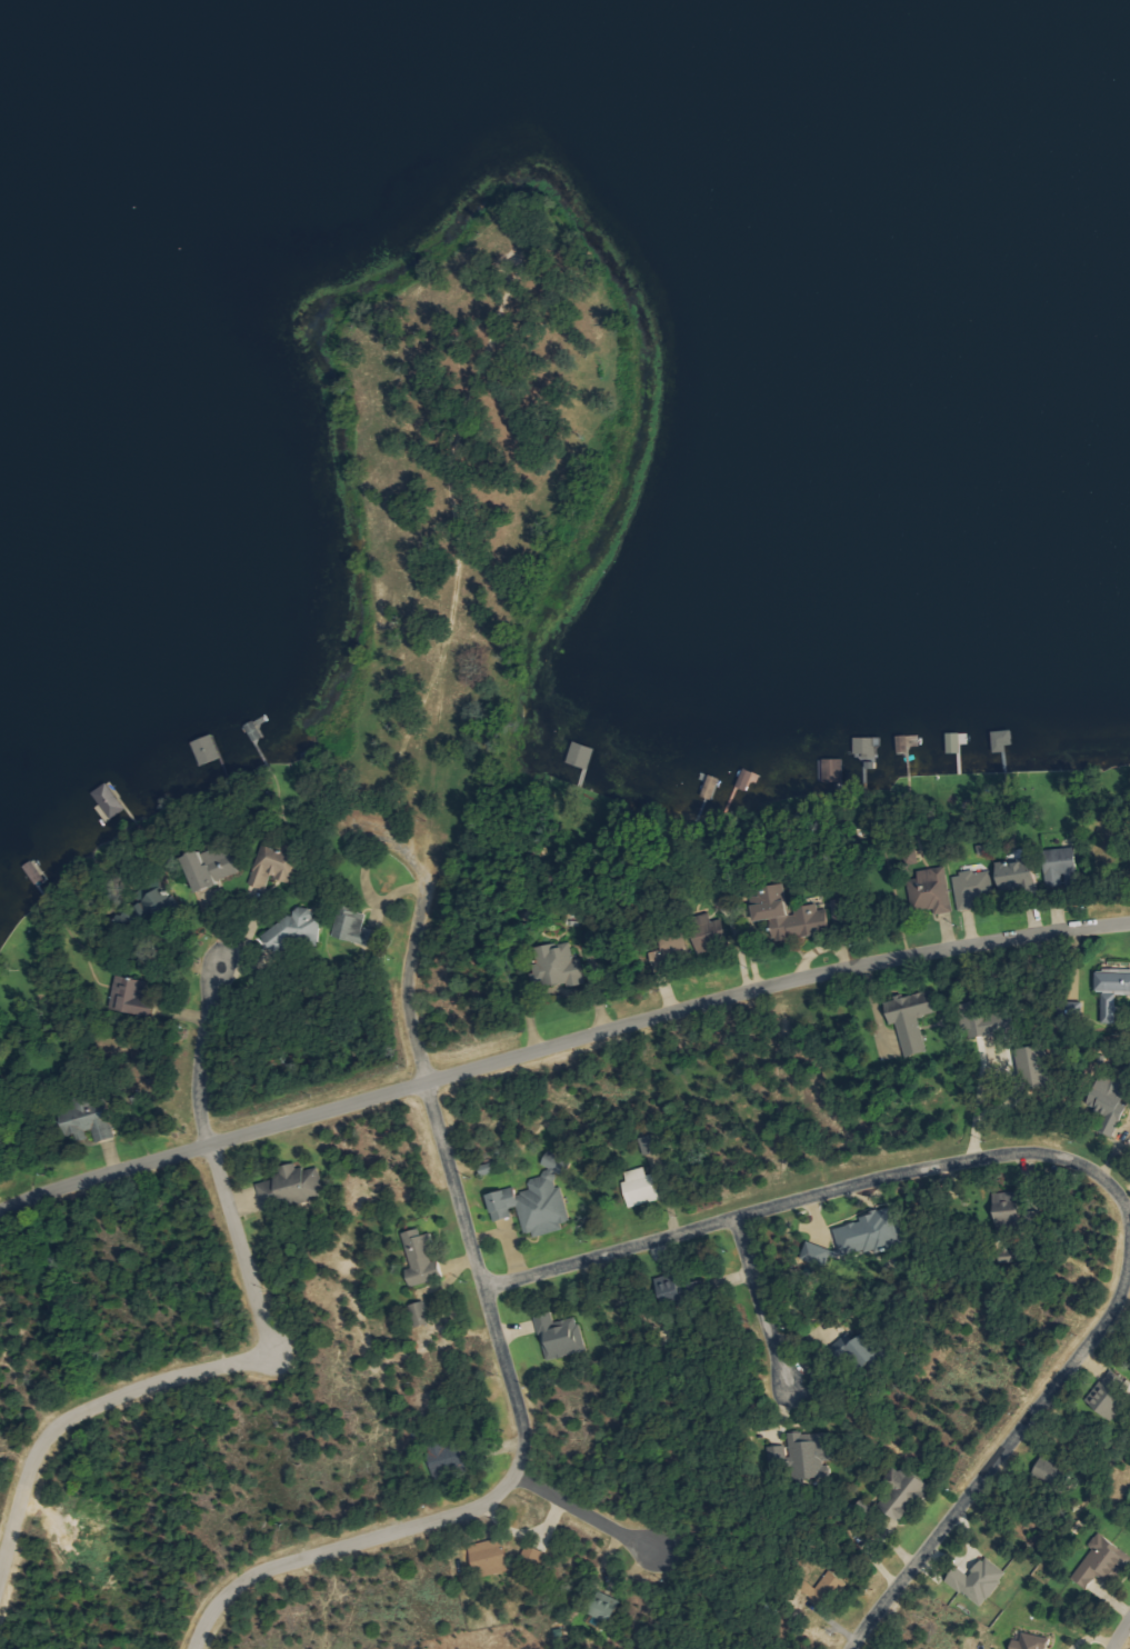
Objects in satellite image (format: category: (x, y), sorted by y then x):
building: (868, 747)
building: (834, 769)
building: (110, 801)
building: (1066, 860)
building: (278, 863)
building: (214, 866)
building: (1020, 873)
building: (972, 887)
building: (933, 891)
building: (794, 915)
building: (353, 927)
building: (560, 962)
road: (404, 980)
building: (1113, 991)
building: (134, 996)
building: (914, 1018)
building: (980, 1020)
road: (559, 1043)
road: (200, 1051)
building: (1037, 1067)
building: (1112, 1099)
road: (1071, 1159)
building: (293, 1186)
building: (642, 1187)
building: (539, 1200)
building: (1010, 1206)
road: (1128, 1211)
building: (864, 1237)
building: (424, 1258)
road: (760, 1301)
building: (422, 1313)
building: (562, 1336)
building: (870, 1350)
road: (186, 1376)
building: (1113, 1395)
building: (810, 1453)
building: (449, 1456)
road: (517, 1462)
building: (1054, 1472)
building: (907, 1492)
road: (582, 1513)
building: (1103, 1561)
building: (981, 1580)
building: (822, 1587)
building: (608, 1607)
road: (1120, 1632)
building: (1031, 1642)

